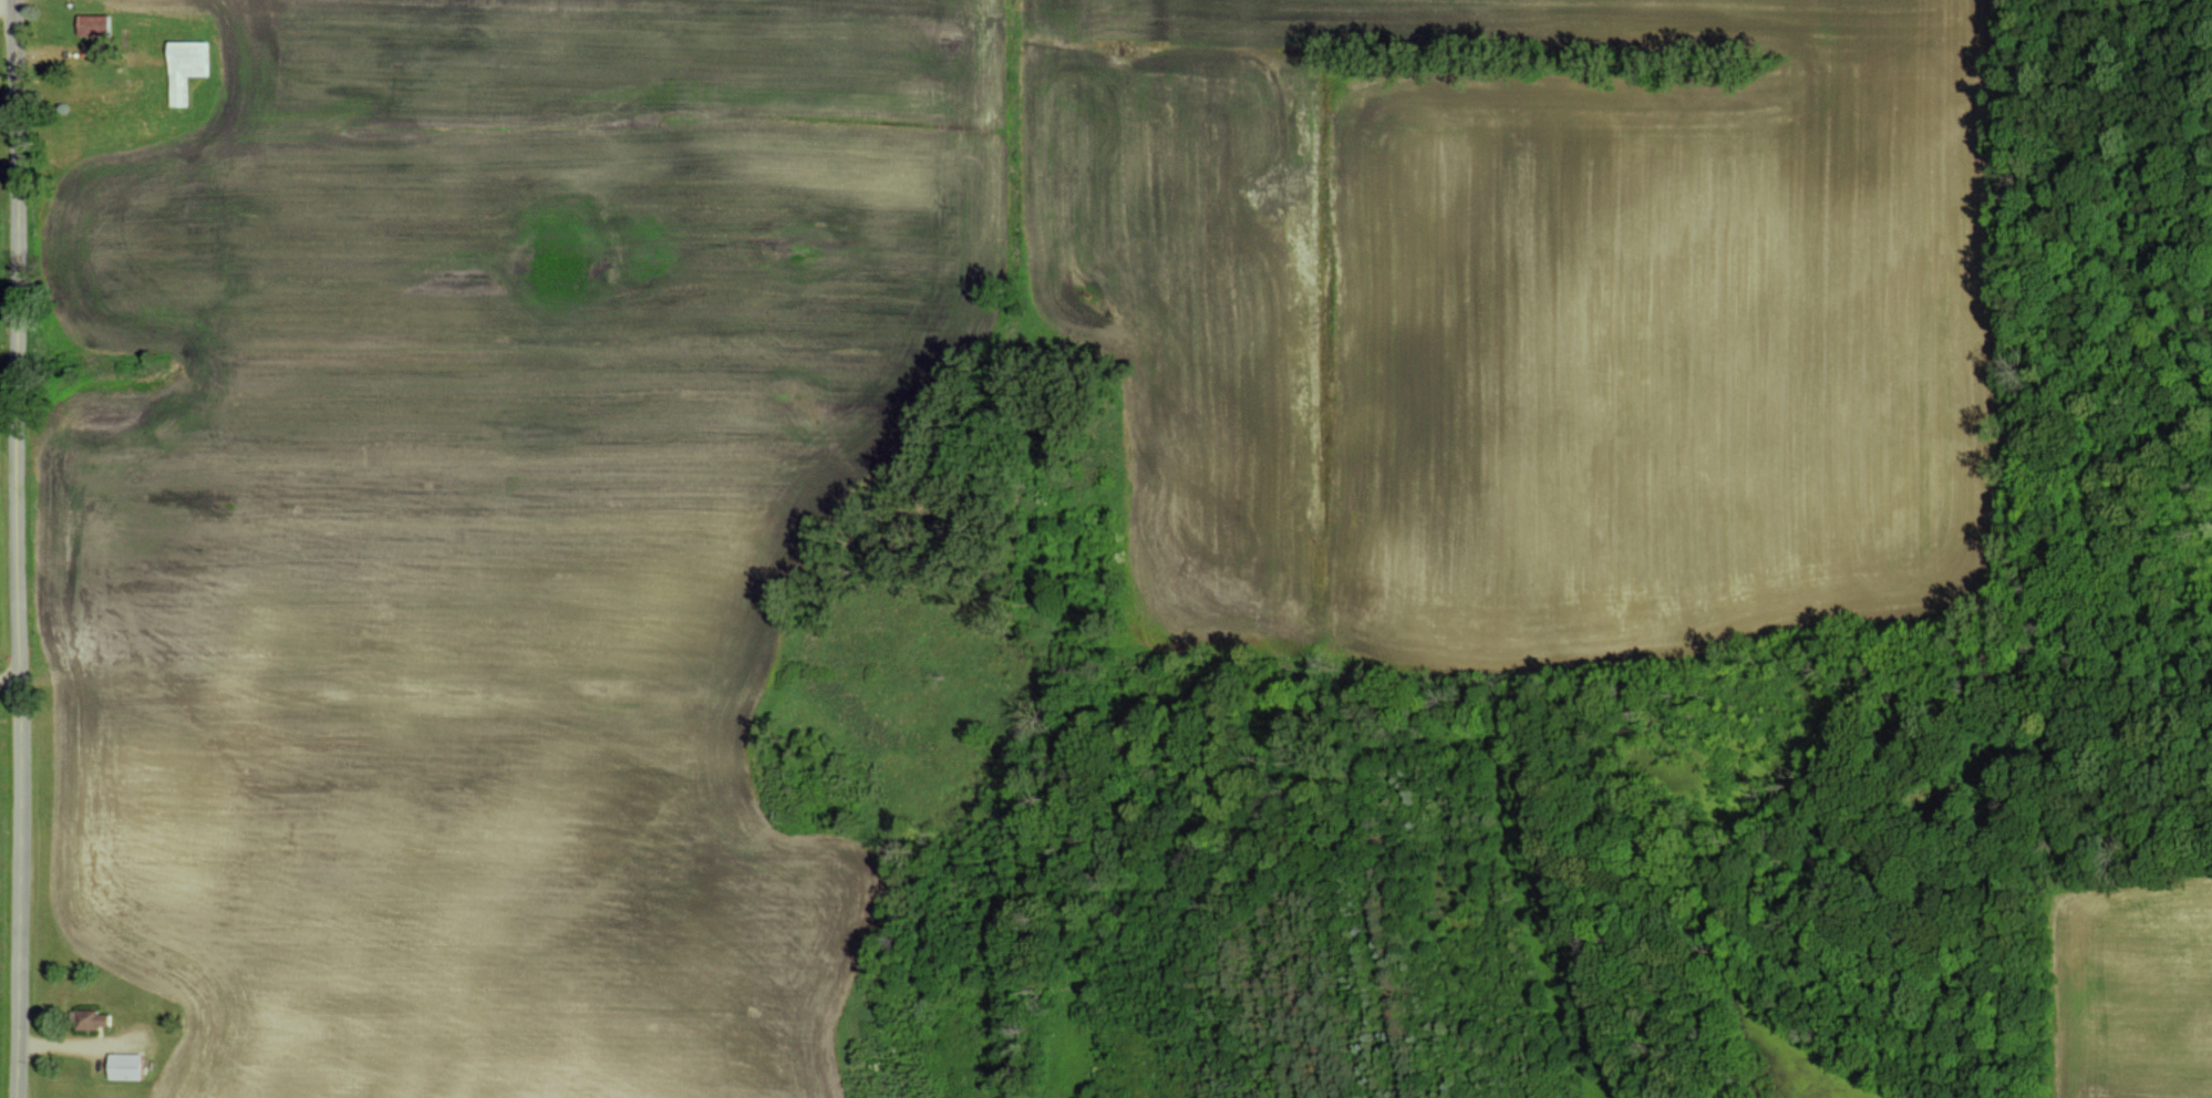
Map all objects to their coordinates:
building: (96, 25)
building: (187, 68)
road: (20, 549)
road: (541, 685)
building: (92, 1018)
building: (126, 1065)

